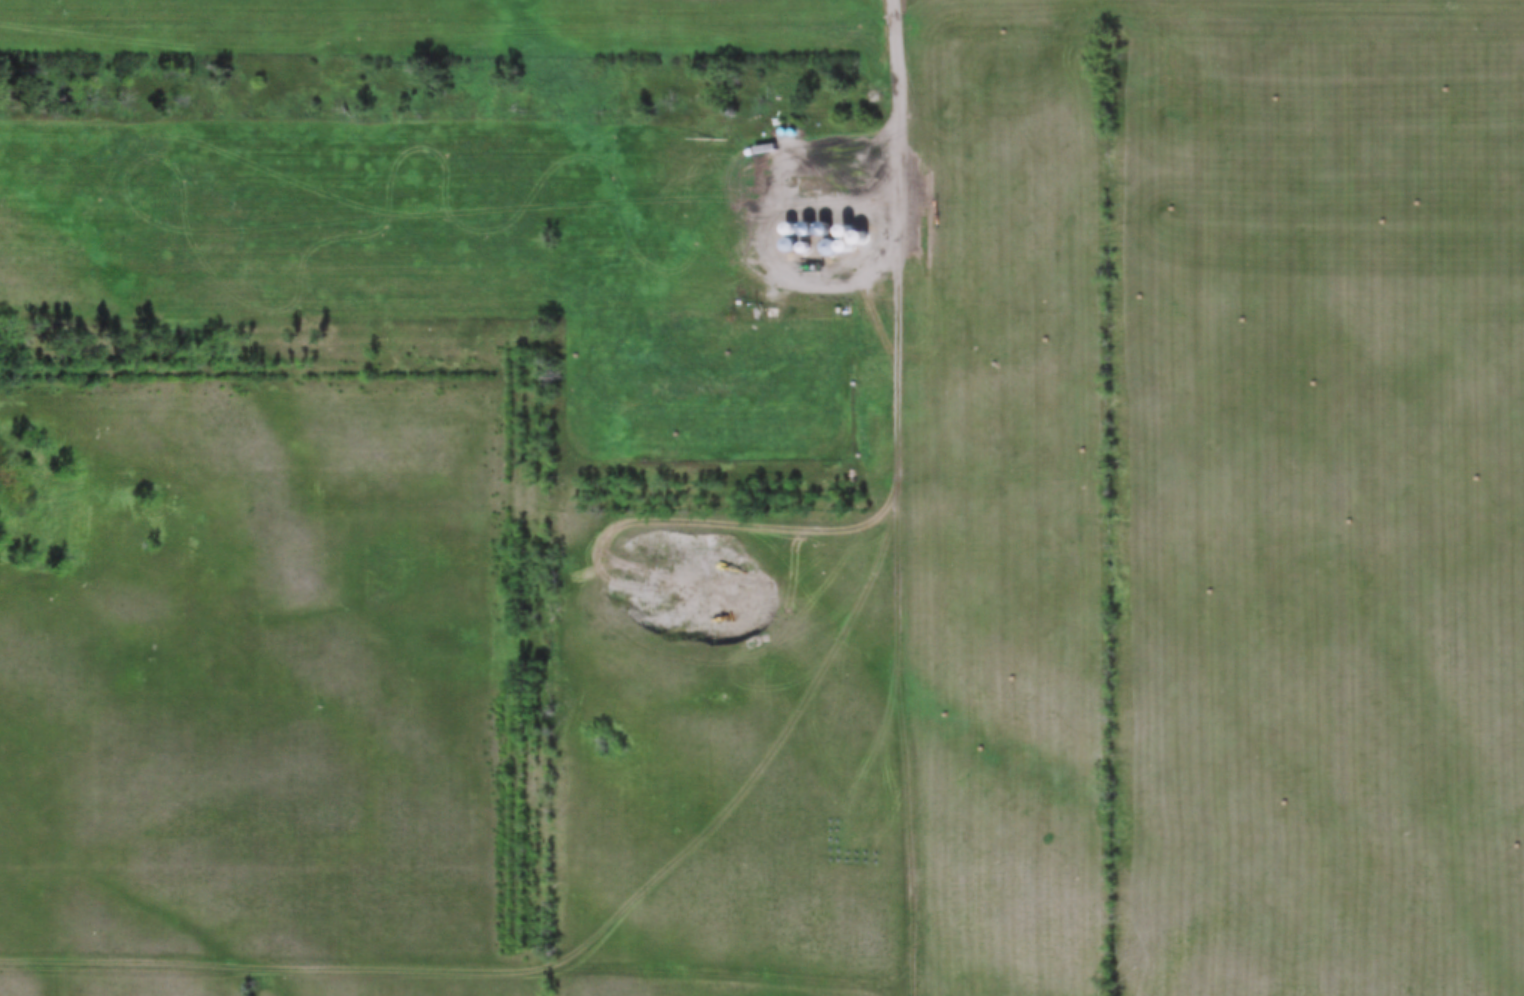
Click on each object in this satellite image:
road: (897, 128)
road: (891, 623)

